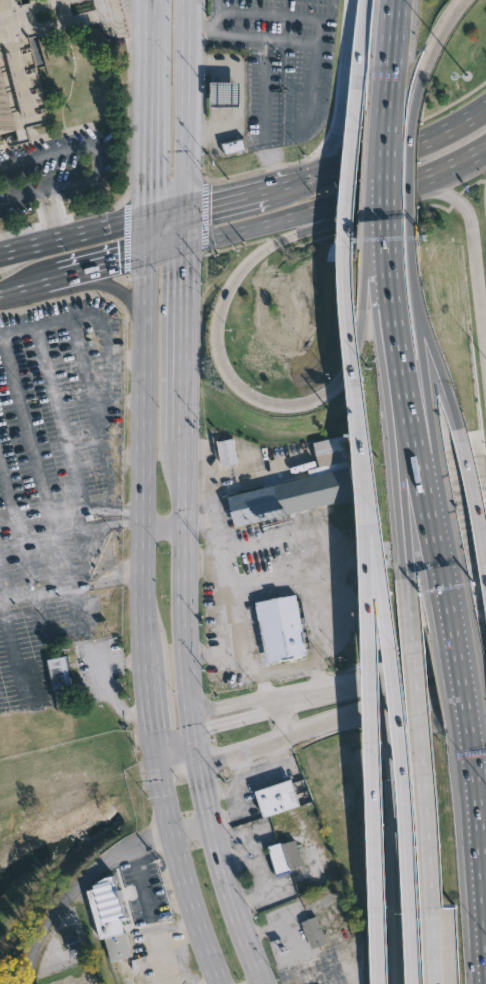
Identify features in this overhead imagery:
building: (8, 3)
road: (215, 5)
road: (150, 8)
road: (283, 18)
road: (149, 31)
road: (231, 37)
road: (293, 43)
road: (429, 59)
road: (387, 65)
building: (225, 94)
building: (21, 95)
road: (313, 97)
road: (344, 99)
road: (184, 105)
road: (267, 113)
road: (147, 132)
building: (234, 146)
road: (382, 151)
road: (394, 153)
road: (98, 163)
road: (408, 182)
road: (420, 185)
traffic signals: (147, 191)
road: (239, 194)
road: (39, 198)
traffic signals: (212, 202)
road: (385, 208)
road: (164, 215)
road: (366, 222)
road: (267, 225)
road: (183, 227)
road: (146, 236)
road: (73, 237)
road: (164, 248)
road: (474, 249)
road: (344, 254)
road: (7, 261)
traffic signals: (119, 261)
road: (97, 266)
traffic signals: (183, 267)
road: (415, 279)
road: (105, 285)
road: (24, 286)
road: (393, 304)
road: (94, 317)
road: (183, 338)
road: (438, 372)
road: (228, 374)
road: (431, 420)
road: (67, 440)
road: (417, 441)
road: (402, 449)
building: (330, 450)
parking lot: (62, 451)
building: (229, 452)
road: (143, 455)
road: (37, 460)
road: (473, 491)
road: (109, 492)
building: (291, 496)
road: (18, 519)
road: (127, 523)
road: (163, 527)
road: (330, 545)
road: (437, 547)
road: (202, 564)
road: (184, 576)
road: (2, 587)
road: (232, 587)
road: (445, 598)
building: (280, 628)
road: (89, 650)
road: (434, 662)
road: (302, 665)
building: (58, 671)
road: (454, 674)
road: (98, 680)
road: (353, 682)
road: (384, 689)
road: (148, 692)
road: (435, 692)
road: (301, 695)
road: (271, 702)
road: (370, 707)
road: (228, 712)
road: (283, 715)
road: (335, 716)
traffic signals: (193, 720)
road: (173, 724)
traffic signals: (153, 728)
road: (280, 732)
road: (195, 739)
road: (253, 740)
road: (399, 745)
road: (156, 748)
road: (214, 752)
traffic signals: (197, 758)
road: (423, 759)
road: (178, 763)
road: (238, 764)
traffic signals: (159, 768)
road: (245, 780)
building: (276, 798)
park: (59, 816)
road: (191, 829)
building: (337, 835)
road: (393, 843)
road: (475, 850)
building: (285, 855)
road: (252, 856)
road: (222, 872)
road: (182, 877)
road: (298, 878)
road: (79, 888)
road: (147, 909)
building: (107, 917)
building: (313, 932)
road: (377, 945)

